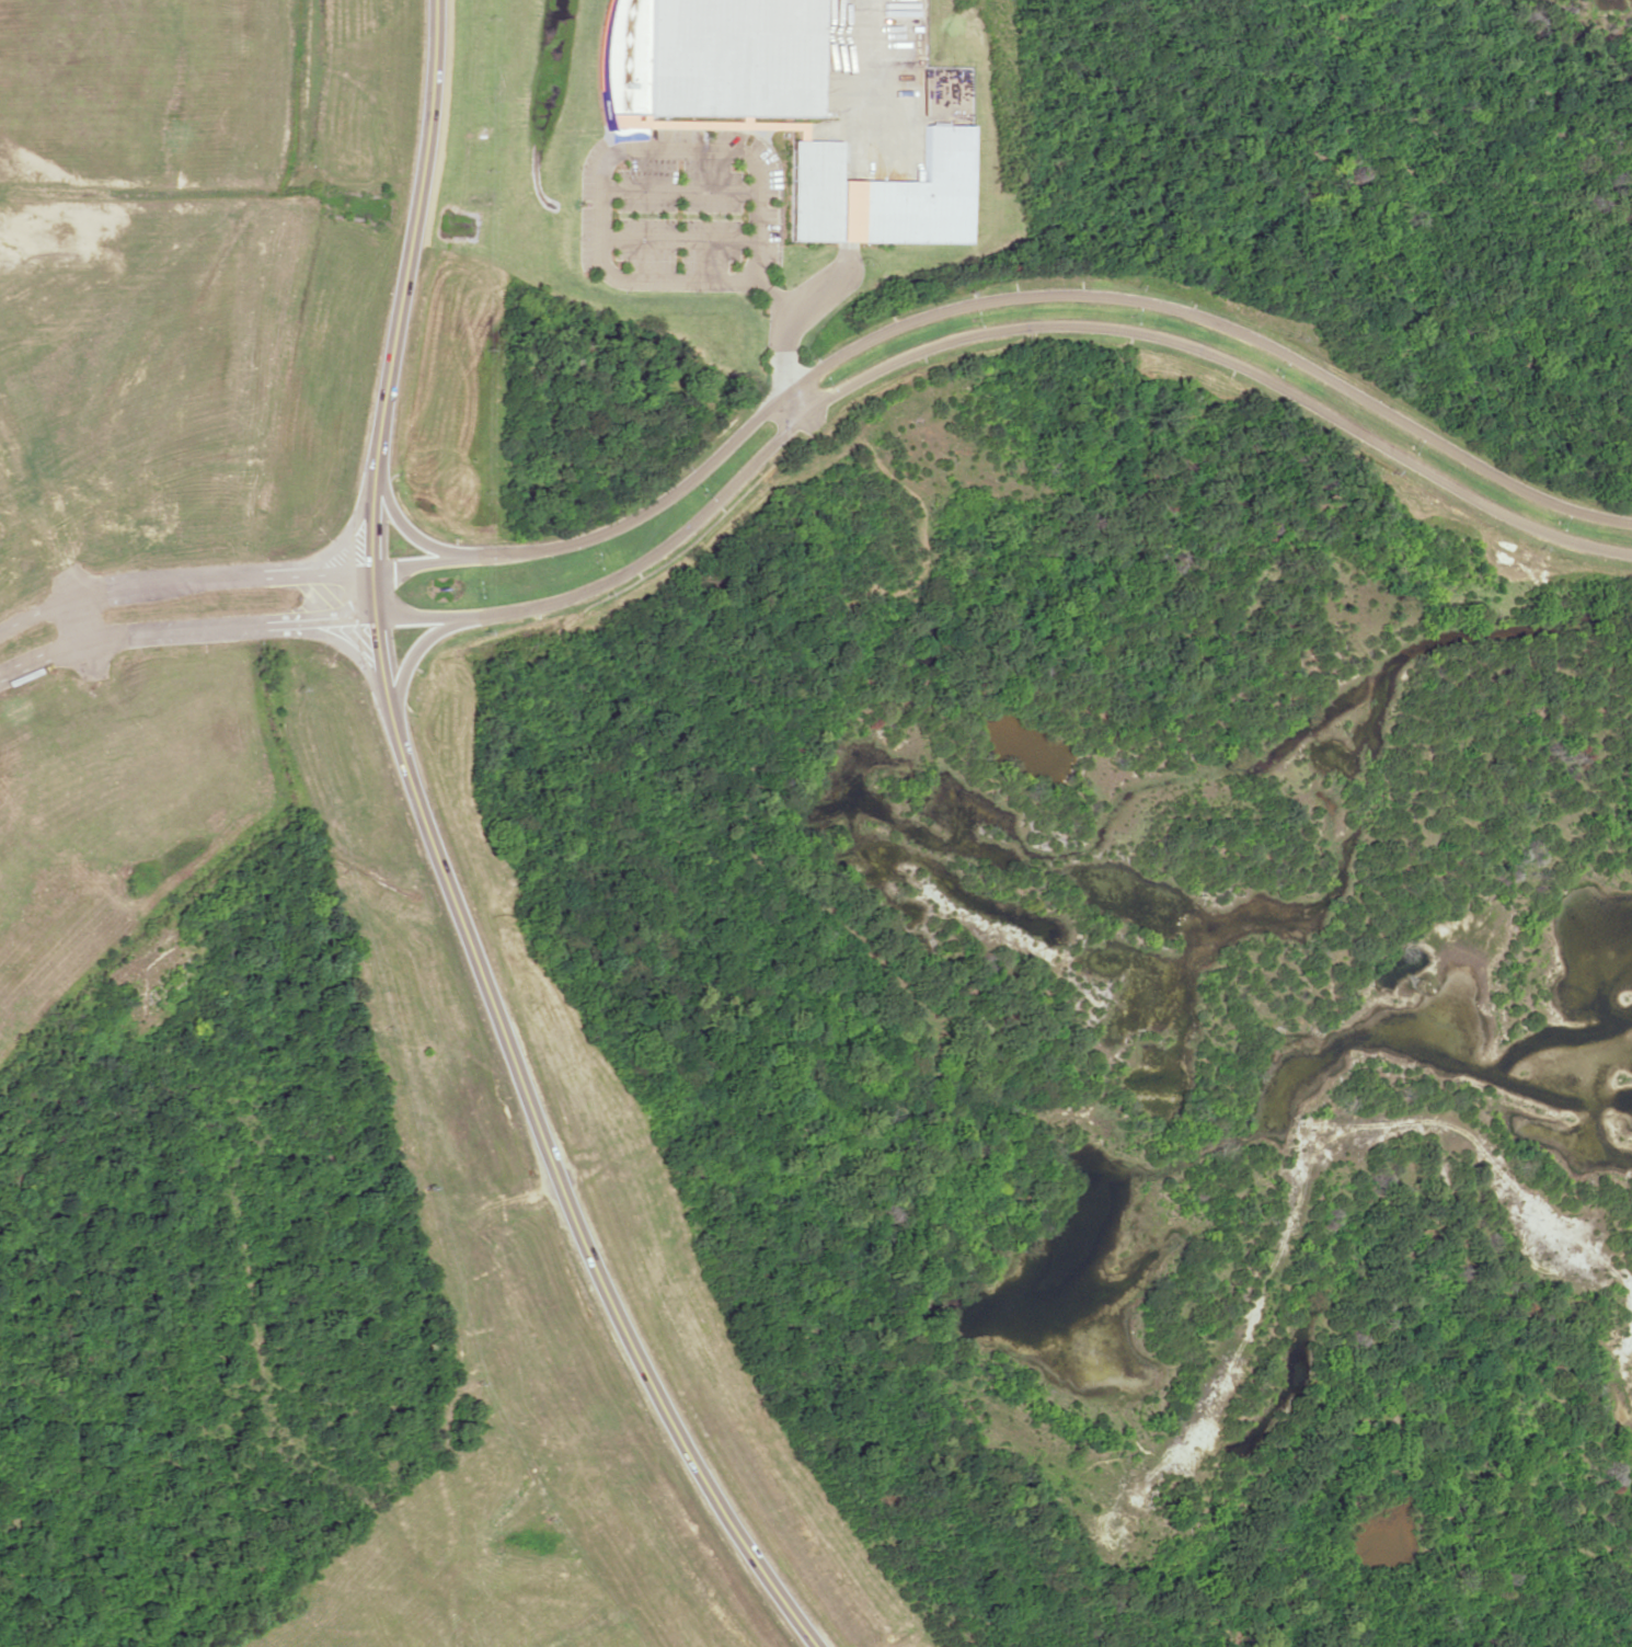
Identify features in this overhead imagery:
building: (709, 56)
building: (882, 194)
road: (989, 296)
road: (984, 329)
road: (421, 539)
road: (182, 581)
road: (79, 620)
road: (183, 631)
road: (415, 643)
road: (444, 862)

